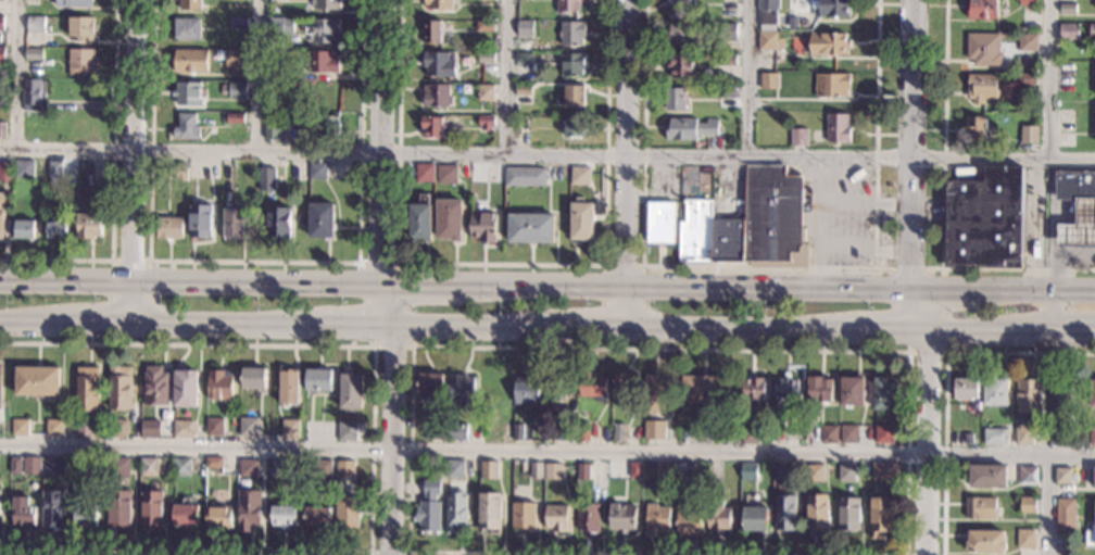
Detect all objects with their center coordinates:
building: (1, 0)
building: (487, 0)
building: (729, 1)
building: (73, 3)
building: (1027, 3)
building: (189, 4)
building: (326, 5)
building: (439, 5)
building: (569, 7)
building: (679, 8)
building: (831, 9)
building: (983, 10)
building: (1067, 10)
building: (767, 11)
building: (1, 23)
building: (238, 23)
building: (793, 23)
building: (804, 23)
building: (35, 24)
building: (275, 26)
building: (486, 26)
building: (80, 28)
building: (525, 28)
building: (186, 29)
building: (322, 30)
building: (727, 31)
building: (1092, 31)
building: (432, 33)
building: (1069, 33)
building: (571, 34)
building: (684, 35)
building: (766, 41)
building: (1027, 42)
building: (828, 46)
building: (983, 50)
building: (32, 53)
building: (1, 54)
building: (486, 58)
building: (523, 58)
building: (232, 59)
building: (79, 61)
building: (189, 61)
building: (728, 61)
building: (322, 63)
building: (438, 65)
building: (571, 65)
building: (681, 66)
building: (277, 74)
road: (257, 76)
road: (18, 77)
road: (507, 78)
road: (747, 79)
building: (1024, 79)
road: (1049, 80)
building: (768, 81)
building: (495, 85)
building: (831, 86)
building: (981, 88)
building: (236, 90)
building: (276, 90)
building: (524, 91)
building: (483, 92)
building: (188, 93)
building: (727, 93)
building: (33, 96)
building: (324, 96)
building: (436, 97)
building: (570, 97)
building: (675, 99)
building: (0, 101)
building: (268, 111)
building: (234, 118)
building: (75, 122)
building: (486, 123)
building: (326, 126)
road: (910, 126)
building: (185, 127)
building: (572, 127)
building: (436, 128)
building: (688, 129)
building: (836, 129)
building: (1, 130)
building: (272, 131)
building: (978, 131)
building: (28, 133)
road: (876, 134)
building: (1028, 135)
building: (797, 137)
road: (131, 140)
road: (382, 142)
road: (546, 156)
road: (625, 163)
building: (22, 169)
building: (53, 169)
building: (316, 171)
building: (5, 172)
building: (178, 172)
building: (424, 173)
building: (445, 175)
building: (525, 176)
building: (579, 176)
building: (277, 179)
building: (488, 179)
road: (817, 180)
building: (265, 182)
road: (112, 185)
building: (1074, 186)
road: (822, 203)
road: (942, 211)
building: (0, 213)
parking lot: (836, 213)
building: (420, 219)
building: (449, 219)
road: (1055, 219)
building: (320, 220)
building: (985, 220)
building: (200, 222)
building: (278, 222)
building: (580, 222)
building: (659, 223)
building: (232, 224)
building: (748, 224)
building: (88, 226)
building: (168, 228)
building: (483, 228)
building: (530, 228)
building: (1079, 228)
building: (23, 229)
building: (55, 230)
road: (864, 244)
road: (642, 248)
road: (1063, 260)
road: (252, 262)
road: (501, 264)
road: (622, 265)
road: (881, 268)
road: (909, 268)
road: (935, 268)
road: (64, 280)
road: (254, 283)
road: (148, 285)
road: (677, 285)
road: (413, 286)
road: (1002, 287)
road: (129, 302)
road: (917, 306)
road: (1057, 307)
road: (37, 321)
road: (101, 323)
road: (211, 324)
road: (341, 325)
road: (461, 326)
road: (577, 326)
road: (731, 327)
road: (881, 328)
road: (990, 328)
road: (1075, 328)
road: (411, 346)
road: (576, 346)
road: (908, 349)
building: (254, 378)
road: (944, 379)
building: (0, 380)
building: (318, 380)
building: (37, 381)
building: (221, 384)
building: (430, 384)
building: (494, 386)
building: (556, 386)
building: (592, 386)
building: (156, 387)
building: (121, 388)
building: (289, 388)
building: (527, 388)
building: (87, 389)
building: (186, 389)
building: (462, 389)
building: (624, 389)
building: (703, 389)
building: (785, 389)
building: (819, 389)
building: (966, 389)
building: (350, 390)
building: (852, 392)
building: (996, 392)
building: (754, 393)
building: (1092, 393)
building: (655, 394)
building: (884, 394)
building: (1059, 398)
building: (1028, 399)
road: (392, 419)
building: (215, 426)
building: (20, 427)
building: (54, 427)
building: (85, 427)
building: (249, 427)
building: (118, 428)
building: (151, 428)
building: (184, 428)
building: (291, 428)
building: (654, 430)
building: (347, 431)
building: (437, 431)
building: (457, 431)
building: (588, 431)
building: (518, 432)
building: (562, 432)
building: (618, 432)
building: (829, 434)
building: (848, 434)
building: (884, 434)
building: (750, 436)
building: (995, 437)
building: (1023, 437)
building: (1059, 437)
building: (1092, 437)
building: (968, 439)
road: (924, 442)
road: (547, 447)
road: (370, 449)
building: (32, 465)
building: (215, 465)
building: (15, 466)
building: (53, 466)
building: (87, 466)
building: (149, 466)
building: (118, 467)
building: (181, 467)
building: (244, 467)
building: (276, 467)
building: (324, 468)
building: (455, 468)
building: (344, 469)
building: (441, 469)
building: (489, 469)
building: (537, 470)
building: (635, 470)
building: (666, 470)
building: (684, 470)
building: (883, 470)
building: (552, 471)
building: (748, 471)
building: (583, 472)
building: (781, 472)
building: (815, 474)
building: (846, 474)
building: (1028, 476)
building: (1063, 476)
building: (987, 477)
building: (1094, 481)
building: (1028, 505)
road: (1046, 505)
building: (121, 507)
building: (152, 507)
building: (980, 507)
building: (429, 508)
building: (52, 509)
building: (249, 509)
building: (347, 509)
building: (23, 512)
building: (490, 512)
building: (86, 513)
building: (456, 513)
building: (718, 513)
building: (784, 513)
building: (817, 513)
building: (0, 514)
building: (186, 514)
building: (848, 514)
building: (880, 515)
building: (285, 516)
building: (1065, 516)
building: (318, 517)
building: (524, 517)
building: (622, 517)
building: (689, 517)
building: (218, 518)
building: (557, 518)
building: (588, 518)
building: (755, 518)
building: (656, 519)
building: (1094, 528)
building: (1090, 538)
building: (1027, 539)
building: (986, 541)
road: (388, 553)

